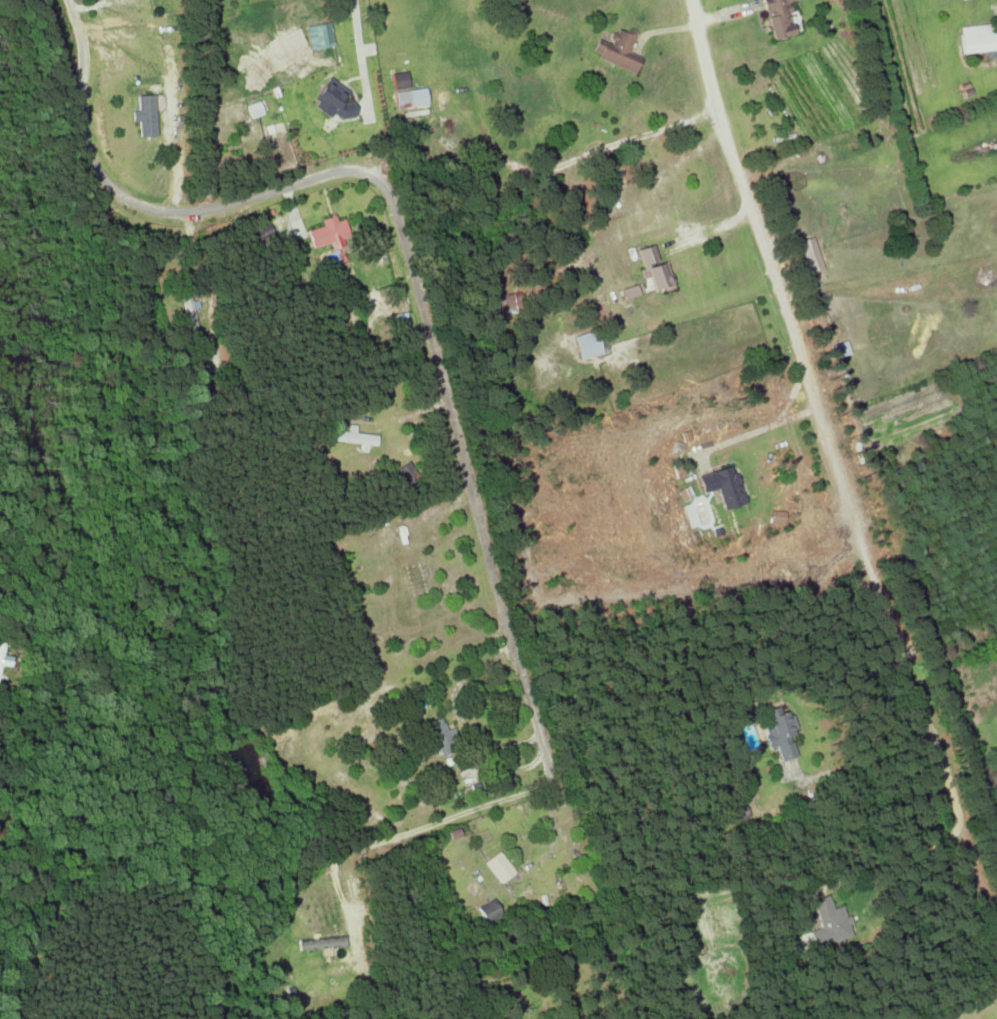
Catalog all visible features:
building: (778, 17)
building: (319, 35)
building: (978, 37)
building: (617, 49)
road: (359, 58)
building: (399, 80)
building: (410, 97)
building: (332, 99)
building: (254, 108)
building: (144, 114)
road: (342, 171)
building: (328, 232)
building: (260, 233)
building: (810, 253)
building: (652, 267)
building: (631, 290)
building: (512, 302)
building: (190, 316)
building: (399, 321)
building: (587, 344)
building: (841, 348)
building: (355, 437)
road: (839, 461)
building: (723, 485)
building: (4, 656)
road: (520, 660)
building: (779, 730)
building: (440, 736)
building: (737, 813)
building: (499, 866)
building: (487, 910)
building: (828, 922)
building: (320, 942)
road: (944, 998)

